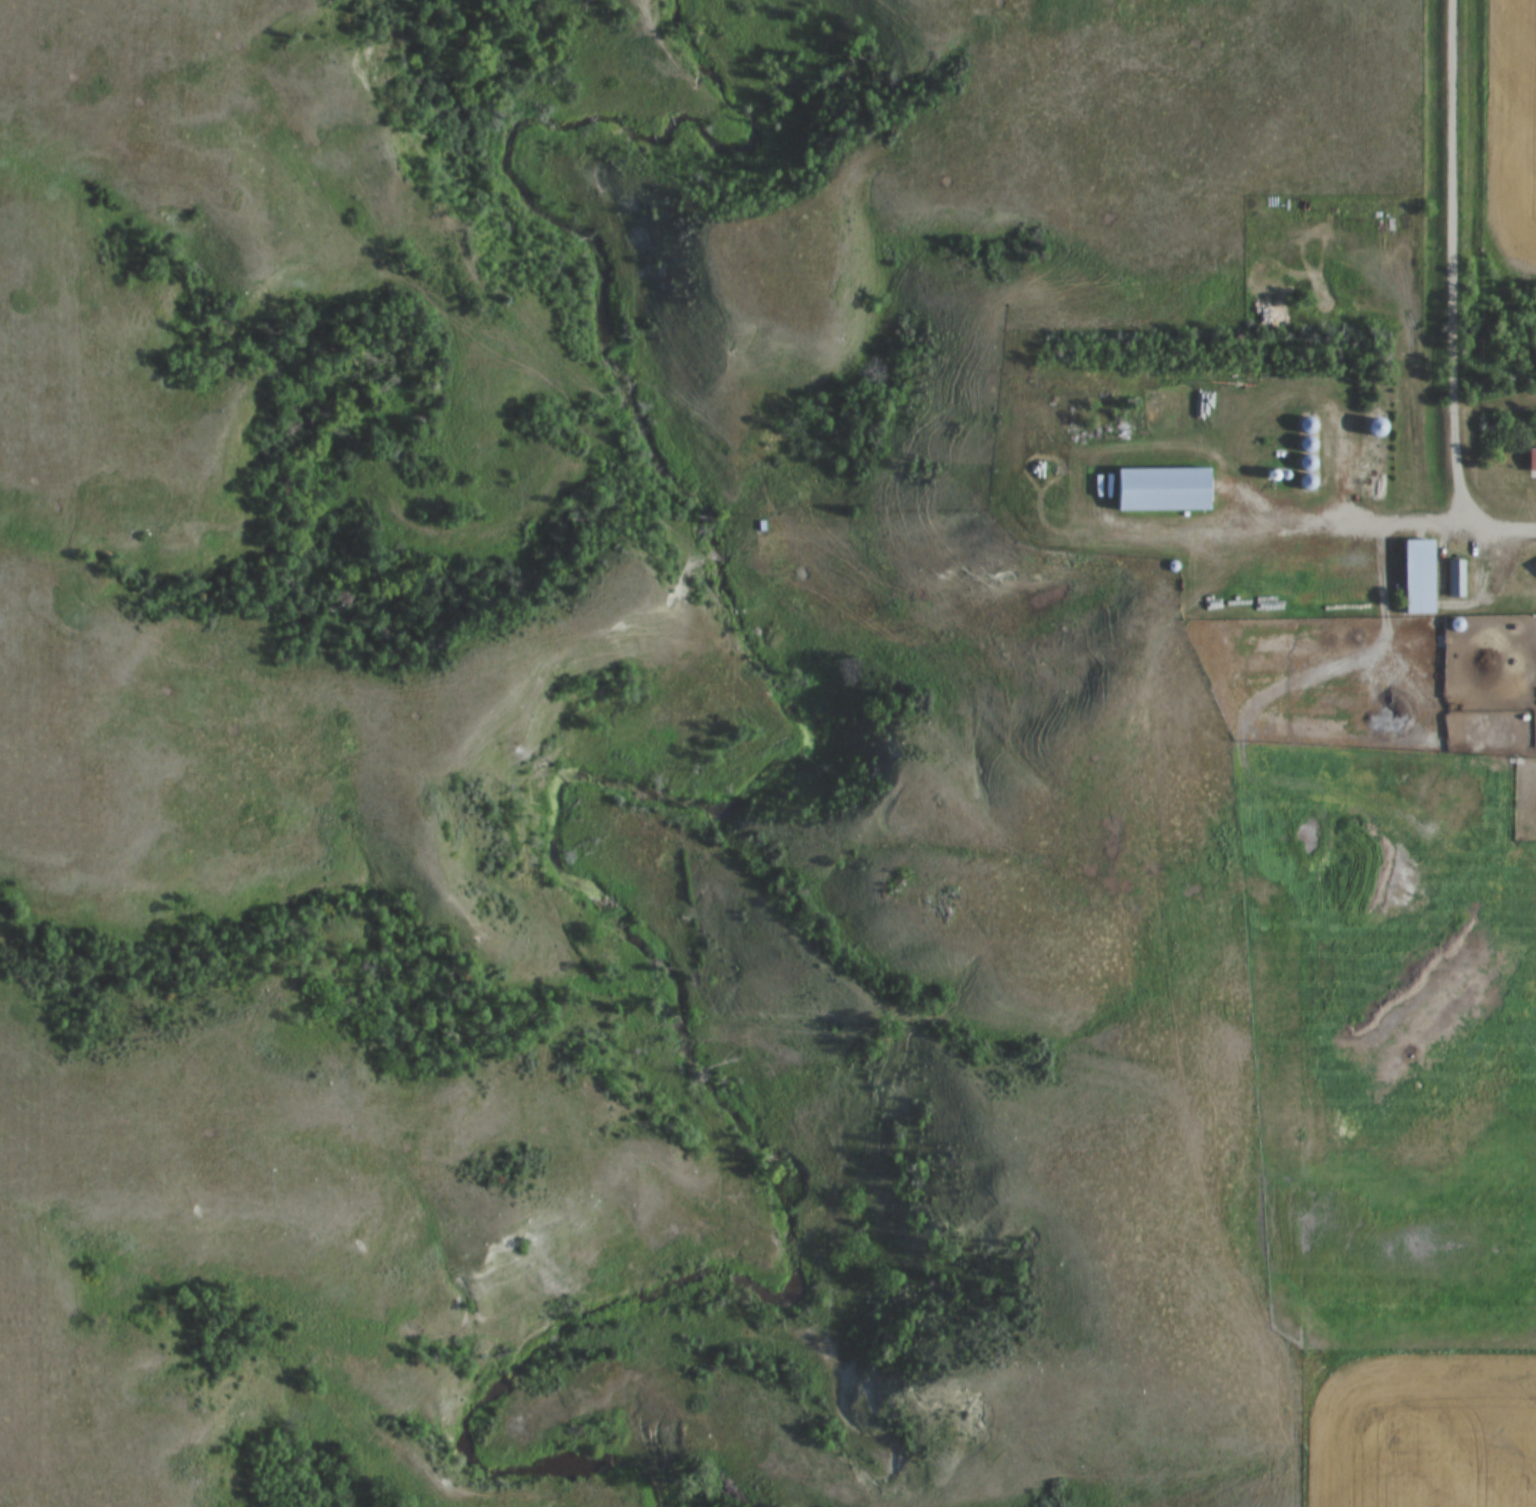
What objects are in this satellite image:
road: (1454, 272)
building: (1376, 428)
building: (1533, 461)
building: (1165, 490)
road: (1374, 523)
building: (1420, 577)
building: (1454, 578)
road: (1154, 812)

